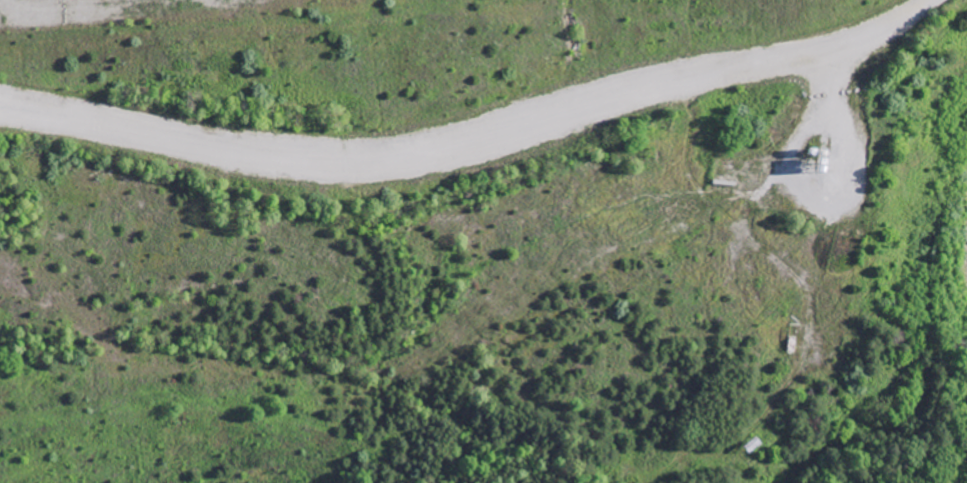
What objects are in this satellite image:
quarry: (275, 50)
road: (478, 189)

